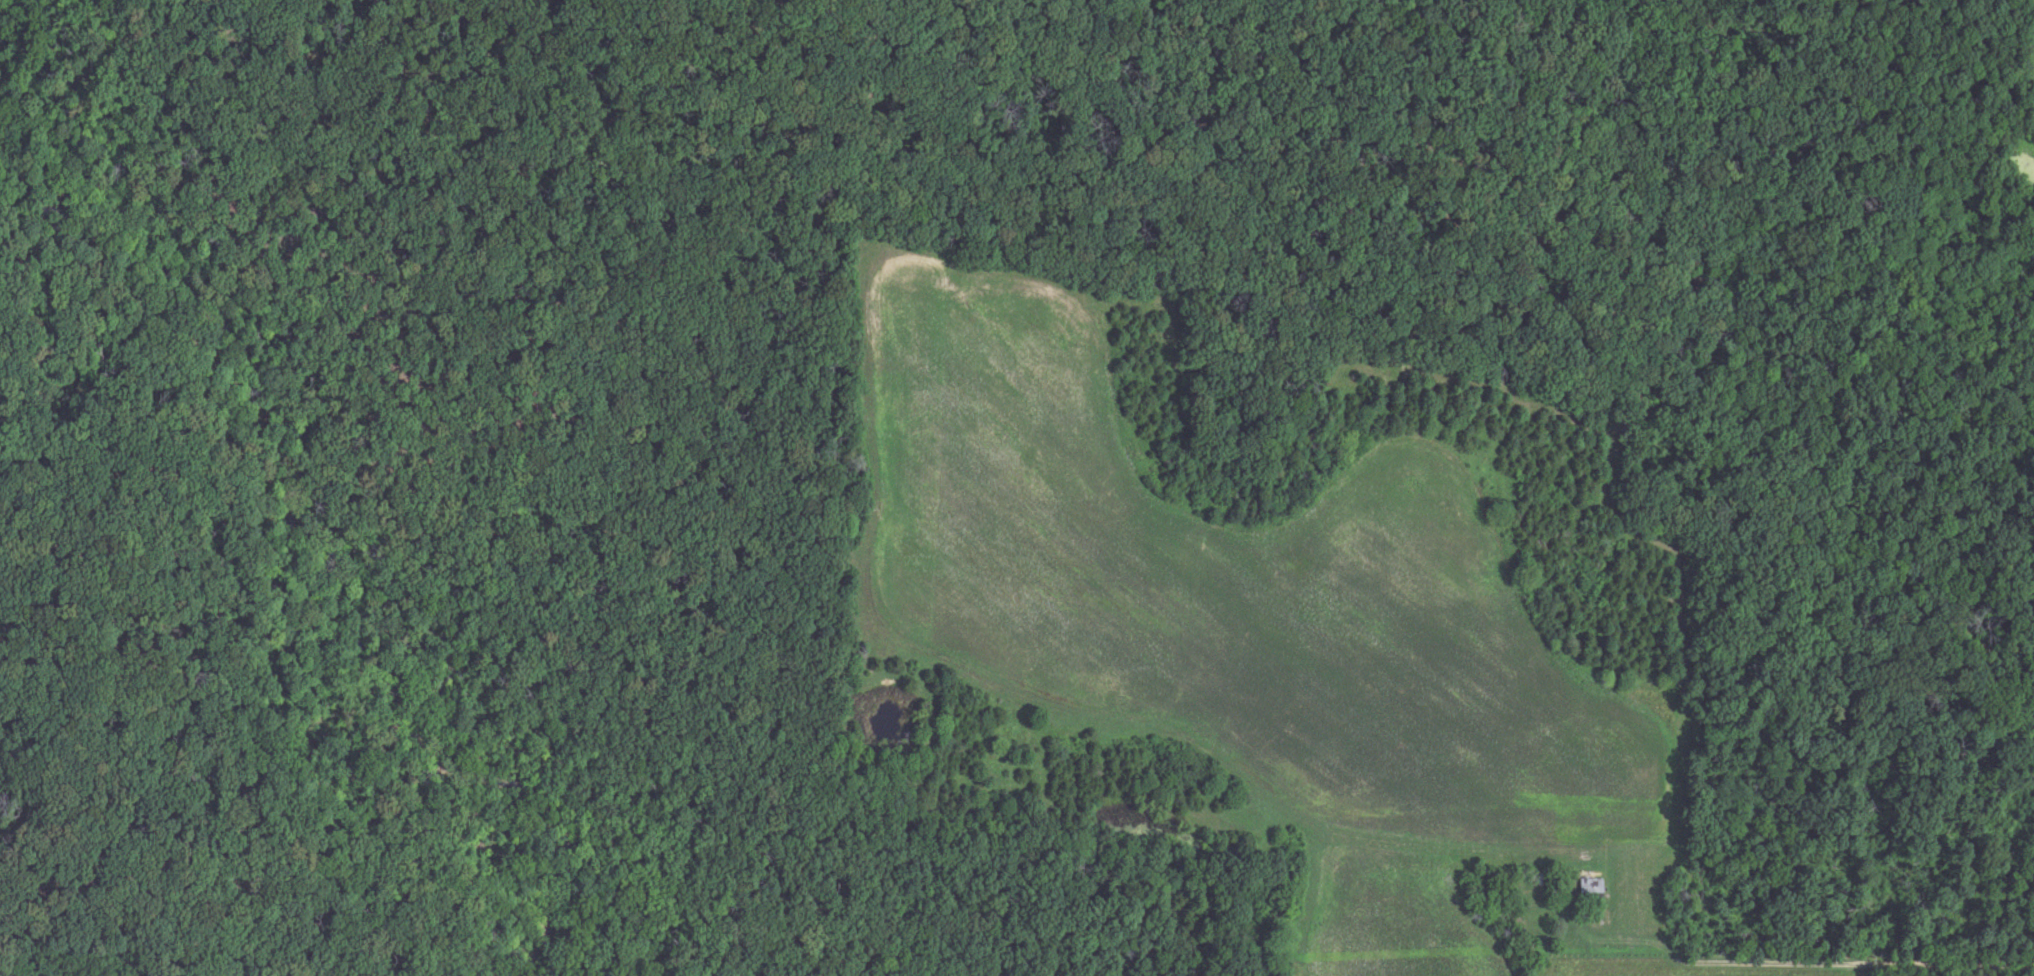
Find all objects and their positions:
building: (1588, 889)

